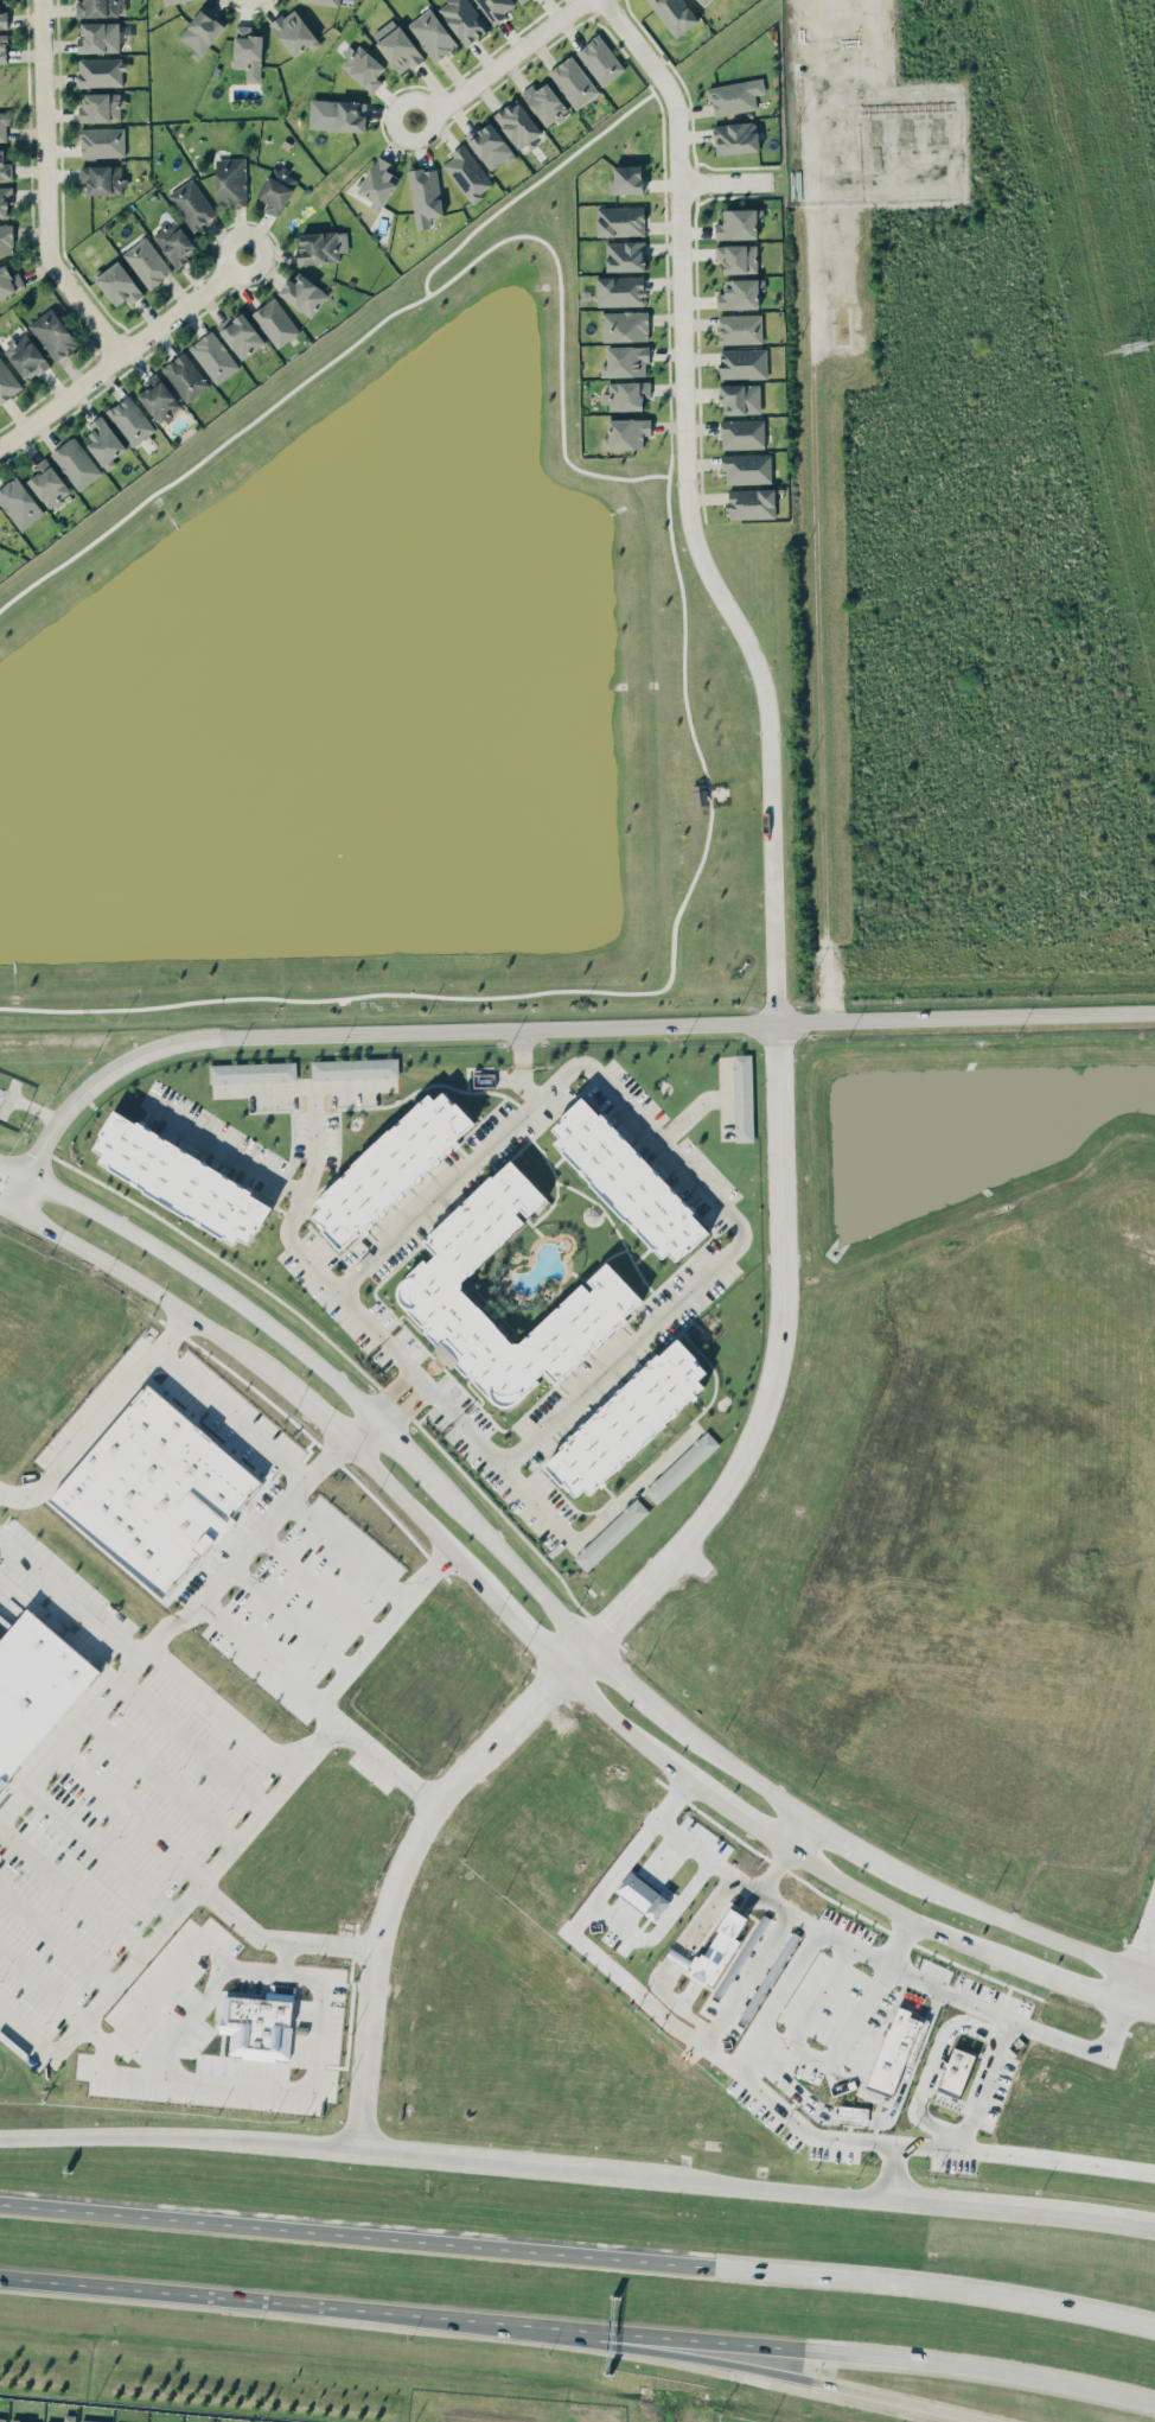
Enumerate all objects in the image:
building: (522, 0)
building: (171, 1)
building: (321, 1)
building: (704, 1)
building: (96, 7)
building: (674, 14)
building: (4, 19)
building: (462, 19)
building: (202, 30)
building: (293, 32)
building: (432, 34)
building: (98, 37)
building: (4, 47)
building: (398, 49)
building: (248, 52)
building: (600, 59)
road: (500, 63)
building: (362, 66)
building: (101, 71)
building: (573, 81)
park: (15, 83)
building: (735, 95)
building: (544, 102)
building: (101, 107)
building: (337, 114)
building: (517, 123)
building: (4, 126)
building: (735, 136)
building: (101, 141)
building: (491, 146)
building: (5, 167)
building: (467, 172)
building: (102, 178)
building: (626, 179)
building: (230, 180)
building: (378, 180)
road: (726, 180)
road: (46, 189)
building: (276, 189)
building: (425, 195)
building: (5, 201)
building: (191, 203)
building: (619, 220)
building: (738, 223)
building: (6, 239)
building: (173, 239)
building: (321, 246)
building: (625, 255)
building: (736, 256)
building: (147, 262)
building: (8, 280)
building: (117, 284)
building: (620, 290)
building: (740, 293)
building: (304, 294)
building: (275, 322)
building: (624, 325)
building: (739, 328)
building: (52, 333)
building: (241, 333)
power tower: (1130, 347)
road: (123, 354)
building: (25, 355)
building: (213, 356)
building: (625, 361)
building: (742, 362)
building: (185, 376)
building: (6, 381)
building: (625, 394)
building: (159, 398)
building: (740, 398)
building: (130, 419)
building: (626, 432)
building: (742, 433)
building: (103, 441)
building: (76, 463)
building: (746, 468)
building: (47, 483)
building: (751, 502)
building: (19, 503)
road: (817, 610)
building: (698, 794)
road: (542, 1026)
road: (528, 1066)
building: (355, 1067)
building: (253, 1072)
building: (742, 1096)
road: (779, 1121)
road: (224, 1152)
road: (693, 1165)
building: (390, 1166)
building: (180, 1178)
building: (627, 1180)
road: (282, 1233)
building: (430, 1279)
road: (406, 1379)
road: (428, 1401)
road: (231, 1413)
road: (100, 1416)
building: (628, 1420)
road: (362, 1426)
building: (681, 1466)
road: (634, 1486)
building: (154, 1490)
road: (536, 1502)
building: (611, 1532)
road: (347, 1549)
road: (787, 1589)
road: (69, 1595)
road: (551, 1603)
road: (171, 1625)
road: (383, 1626)
road: (921, 1638)
road: (547, 1652)
road: (697, 1667)
road: (843, 1684)
building: (36, 1692)
road: (221, 1705)
road: (714, 1714)
road: (863, 1725)
road: (324, 1731)
road: (384, 1761)
road: (796, 1829)
road: (703, 1857)
road: (795, 1909)
road: (1153, 1914)
road: (167, 1920)
road: (1144, 1941)
road: (286, 1957)
road: (604, 1963)
road: (927, 1983)
road: (1131, 1985)
road: (321, 1991)
road: (191, 2019)
building: (259, 2023)
road: (840, 2035)
road: (758, 2046)
building: (895, 2048)
road: (931, 2065)
road: (988, 2070)
building: (956, 2071)
building: (853, 2113)
road: (178, 2134)
road: (1052, 2160)
road: (755, 2187)
road: (579, 2252)
road: (193, 2294)
road: (772, 2345)
road: (691, 2356)
building: (65, 2417)
building: (1, 2418)
building: (21, 2420)
building: (91, 2420)
building: (19, 2421)

